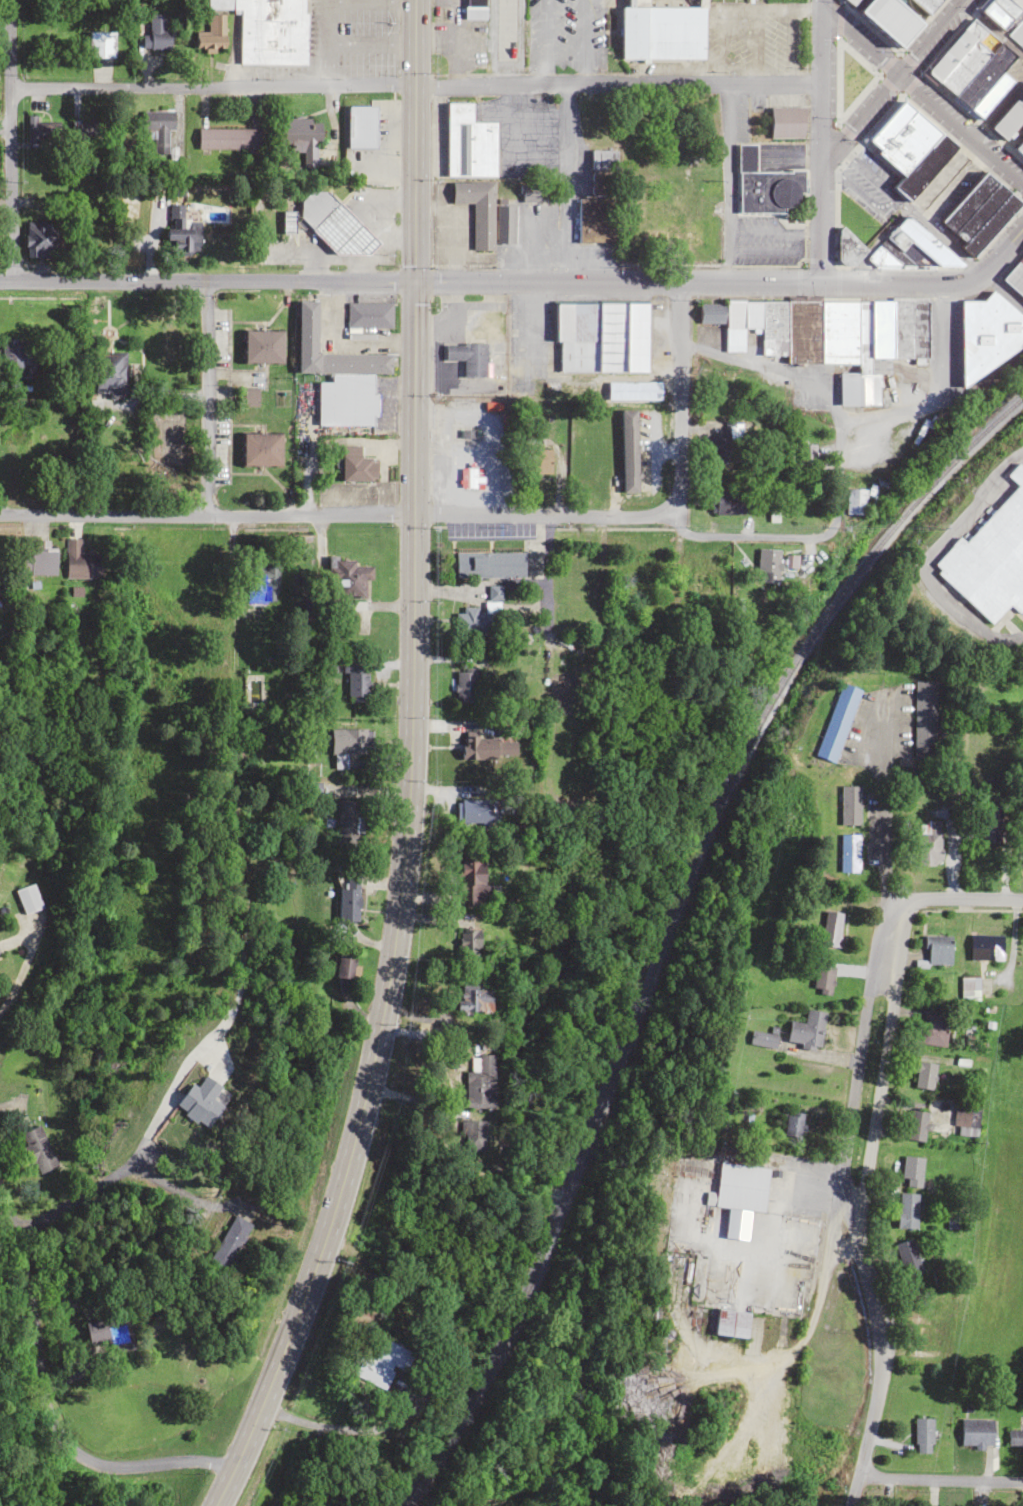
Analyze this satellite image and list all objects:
building: (852, 2)
building: (927, 4)
road: (822, 5)
building: (474, 9)
building: (1006, 17)
building: (892, 19)
building: (268, 30)
building: (506, 30)
building: (662, 32)
building: (158, 33)
building: (211, 33)
building: (974, 68)
road: (890, 79)
road: (415, 84)
road: (922, 97)
building: (786, 122)
building: (1011, 126)
building: (40, 128)
building: (86, 130)
building: (298, 133)
building: (158, 134)
building: (226, 139)
road: (11, 140)
building: (469, 143)
road: (820, 145)
building: (909, 148)
road: (563, 182)
road: (723, 183)
building: (767, 186)
building: (598, 200)
building: (477, 210)
building: (332, 224)
building: (504, 224)
building: (666, 225)
building: (948, 229)
building: (181, 232)
building: (41, 239)
building: (1015, 277)
road: (522, 280)
building: (368, 315)
building: (830, 335)
building: (986, 335)
building: (601, 337)
building: (261, 346)
building: (468, 358)
building: (15, 360)
building: (107, 374)
building: (338, 375)
building: (633, 390)
building: (249, 396)
road: (677, 397)
road: (197, 398)
building: (722, 448)
building: (260, 449)
building: (629, 451)
building: (588, 460)
building: (355, 465)
building: (854, 501)
building: (727, 502)
road: (495, 514)
building: (990, 557)
building: (80, 562)
building: (40, 563)
building: (488, 564)
building: (772, 564)
building: (346, 573)
building: (261, 580)
building: (704, 590)
road: (233, 600)
building: (476, 621)
road: (545, 631)
building: (356, 681)
building: (464, 684)
building: (838, 720)
building: (924, 720)
building: (347, 740)
building: (488, 747)
road: (407, 768)
road: (882, 798)
building: (849, 805)
building: (475, 811)
building: (990, 819)
building: (346, 820)
building: (928, 842)
building: (849, 852)
building: (472, 884)
building: (27, 898)
road: (934, 900)
building: (347, 903)
railway: (668, 922)
building: (830, 928)
building: (985, 946)
building: (937, 949)
building: (343, 974)
building: (822, 979)
building: (474, 998)
building: (806, 1029)
building: (932, 1029)
road: (205, 1030)
building: (762, 1039)
building: (923, 1075)
building: (480, 1082)
building: (194, 1101)
building: (966, 1117)
building: (793, 1123)
building: (916, 1124)
building: (473, 1136)
building: (36, 1148)
building: (911, 1170)
building: (741, 1186)
building: (906, 1209)
road: (851, 1213)
building: (229, 1241)
building: (906, 1257)
building: (730, 1322)
building: (109, 1329)
building: (925, 1343)
building: (380, 1364)
road: (39, 1400)
road: (306, 1421)
building: (976, 1431)
building: (922, 1435)
building: (1014, 1437)
road: (940, 1478)
road: (852, 1491)

